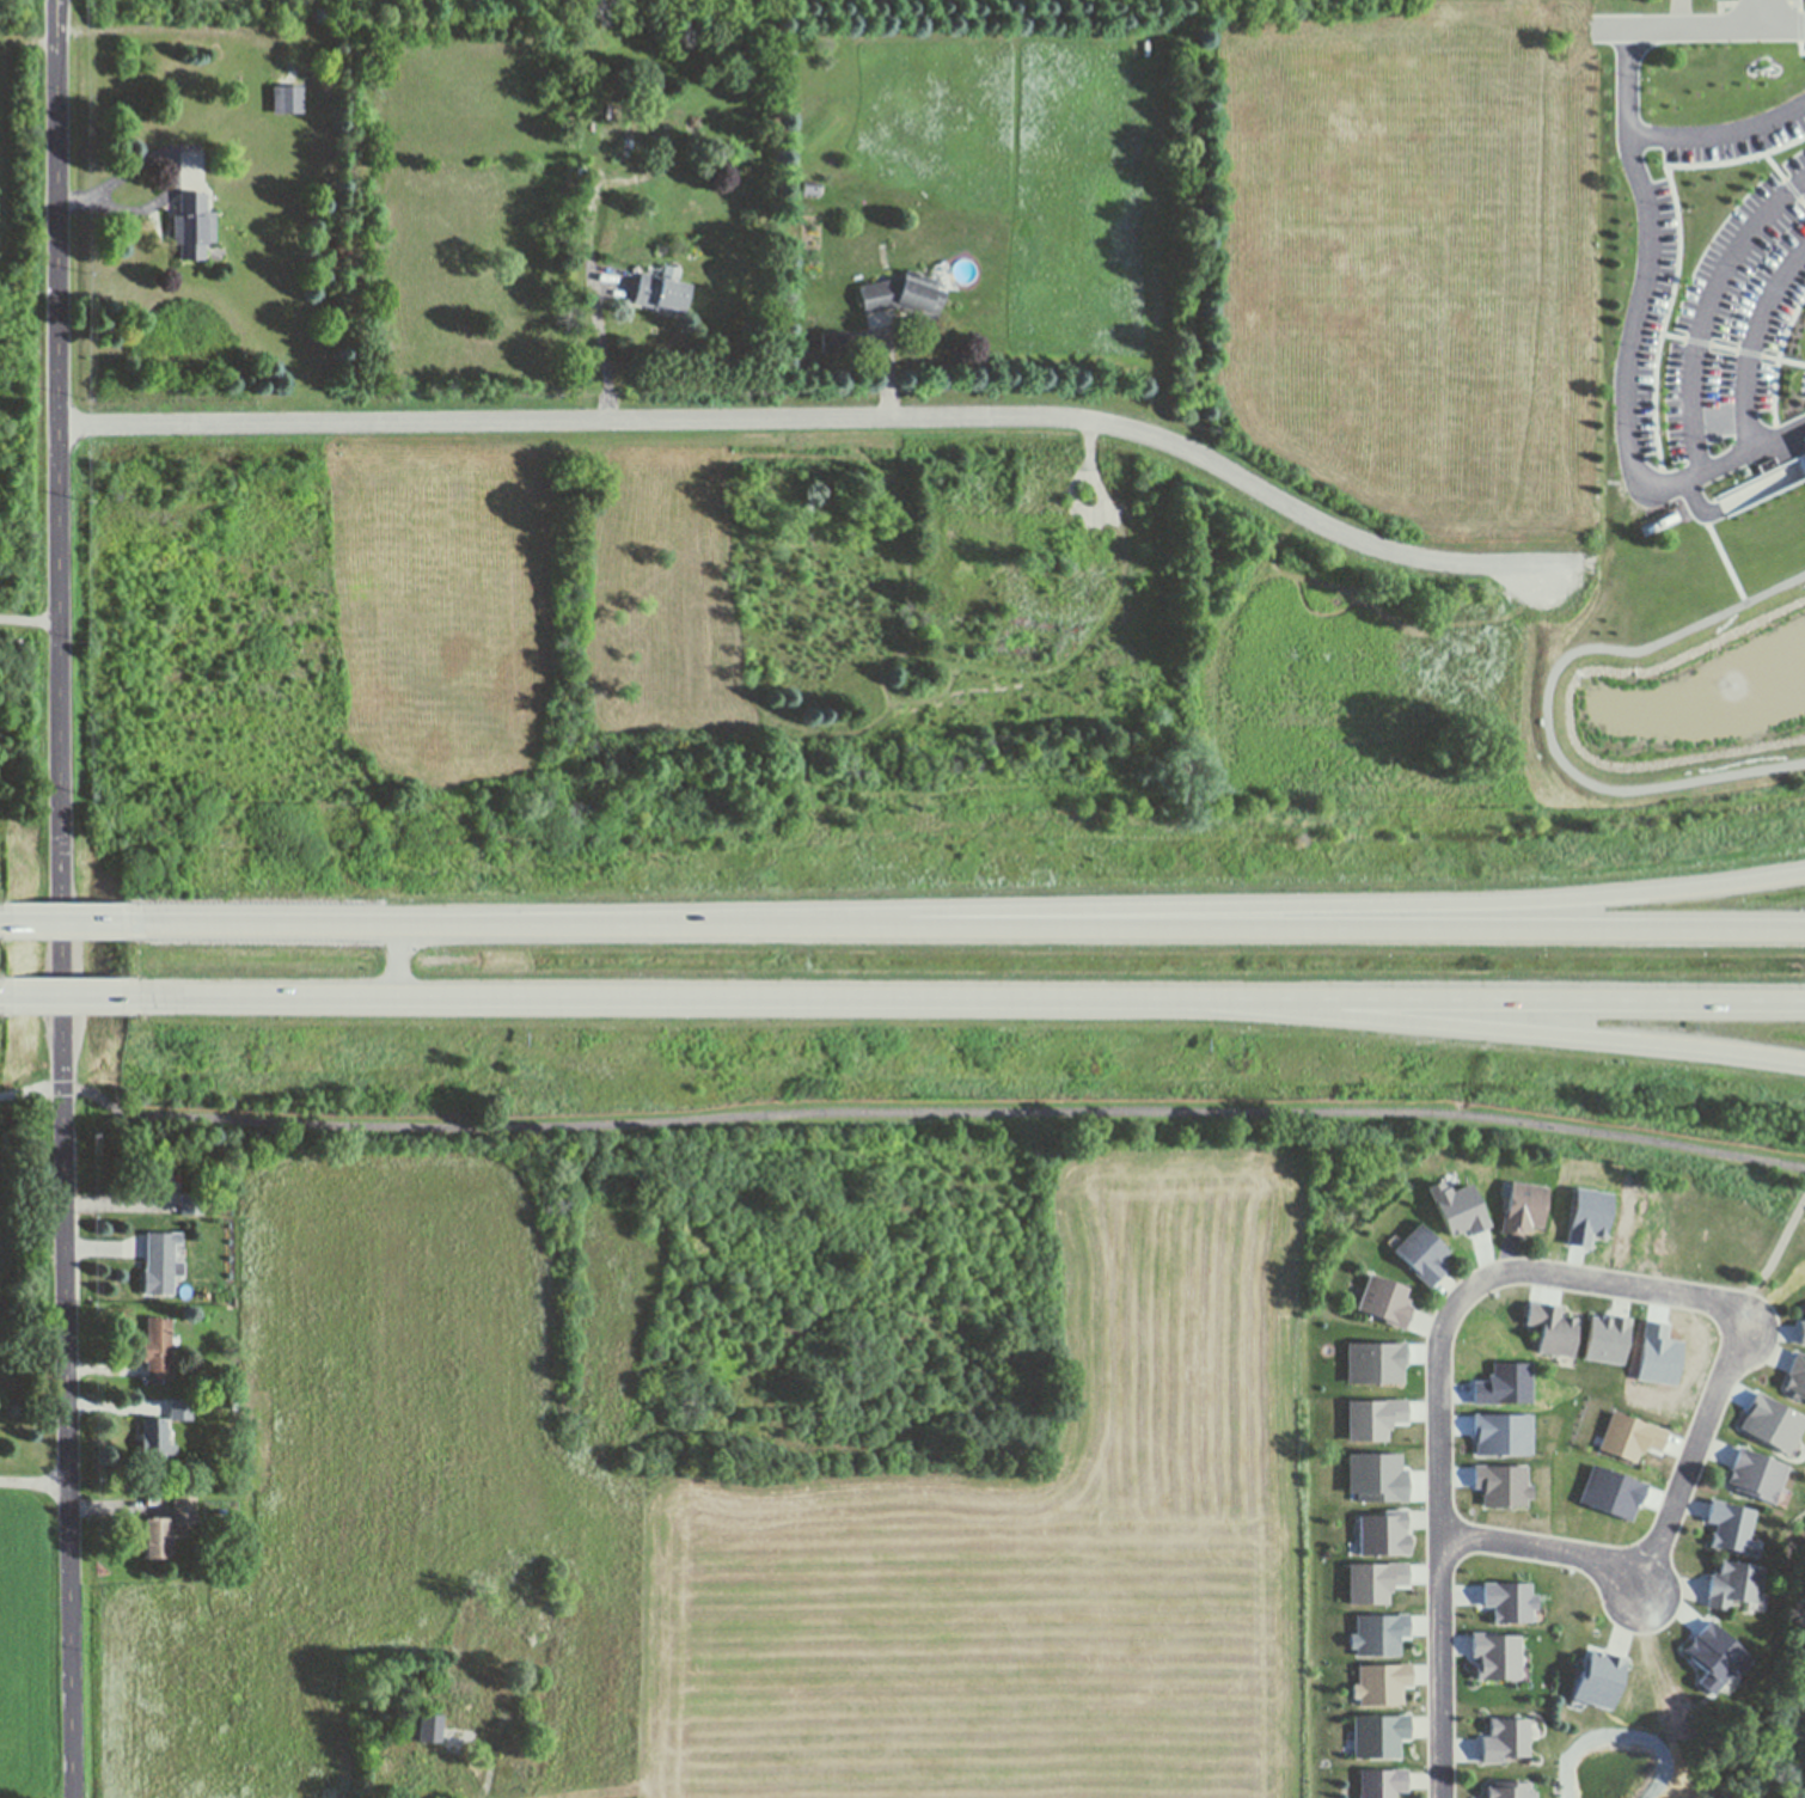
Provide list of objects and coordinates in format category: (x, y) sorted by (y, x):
road: (1763, 12)
road: (1696, 25)
road: (1800, 25)
road: (1627, 81)
building: (288, 100)
crop: (24, 128)
building: (647, 128)
building: (581, 170)
road: (1785, 177)
building: (812, 186)
building: (194, 226)
crop: (1359, 249)
road: (1678, 256)
building: (963, 270)
road: (610, 279)
building: (663, 289)
building: (904, 293)
road: (1706, 306)
parking lot: (1711, 307)
road: (1636, 308)
building: (1690, 318)
building: (834, 340)
road: (1751, 340)
road: (1732, 348)
road: (1778, 361)
parking lot: (1803, 385)
road: (821, 421)
road: (1797, 439)
road: (1801, 439)
road: (1737, 497)
building: (1075, 542)
road: (1727, 556)
road: (30, 620)
road: (1549, 702)
fountain: (1670, 714)
road: (62, 899)
road: (1297, 904)
road: (5, 919)
road: (65, 921)
road: (377, 924)
road: (712, 924)
road: (1297, 925)
road: (392, 961)
road: (5, 991)
road: (65, 992)
road: (665, 997)
road: (1509, 998)
road: (1507, 1029)
road: (31, 1088)
road: (932, 1109)
building: (153, 1175)
building: (1505, 1188)
building: (191, 1203)
building: (1522, 1207)
building: (1393, 1240)
building: (1420, 1253)
road: (1774, 1256)
building: (159, 1262)
road: (1574, 1279)
building: (1382, 1301)
building: (1550, 1328)
building: (1801, 1333)
building: (1605, 1338)
building: (175, 1339)
building: (158, 1349)
building: (1797, 1375)
building: (180, 1408)
building: (1373, 1418)
building: (1629, 1436)
building: (154, 1438)
road: (38, 1469)
crop: (747, 1474)
building: (1755, 1474)
building: (1378, 1476)
building: (1778, 1497)
building: (184, 1510)
building: (1733, 1528)
building: (1381, 1533)
building: (153, 1541)
building: (1757, 1548)
road: (1634, 1578)
building: (1375, 1580)
building: (1733, 1584)
building: (1507, 1596)
building: (1757, 1603)
building: (1370, 1625)
crop: (30, 1651)
building: (1493, 1657)
building: (1714, 1657)
road: (1442, 1665)
building: (1519, 1666)
building: (1378, 1675)
building: (1598, 1681)
building: (428, 1727)
building: (516, 1729)
road: (452, 1732)
building: (1378, 1736)
road: (453, 1742)
building: (1507, 1742)
road: (490, 1759)
road: (470, 1773)
building: (520, 1774)
building: (422, 1775)
building: (1379, 1782)
building: (1507, 1791)

